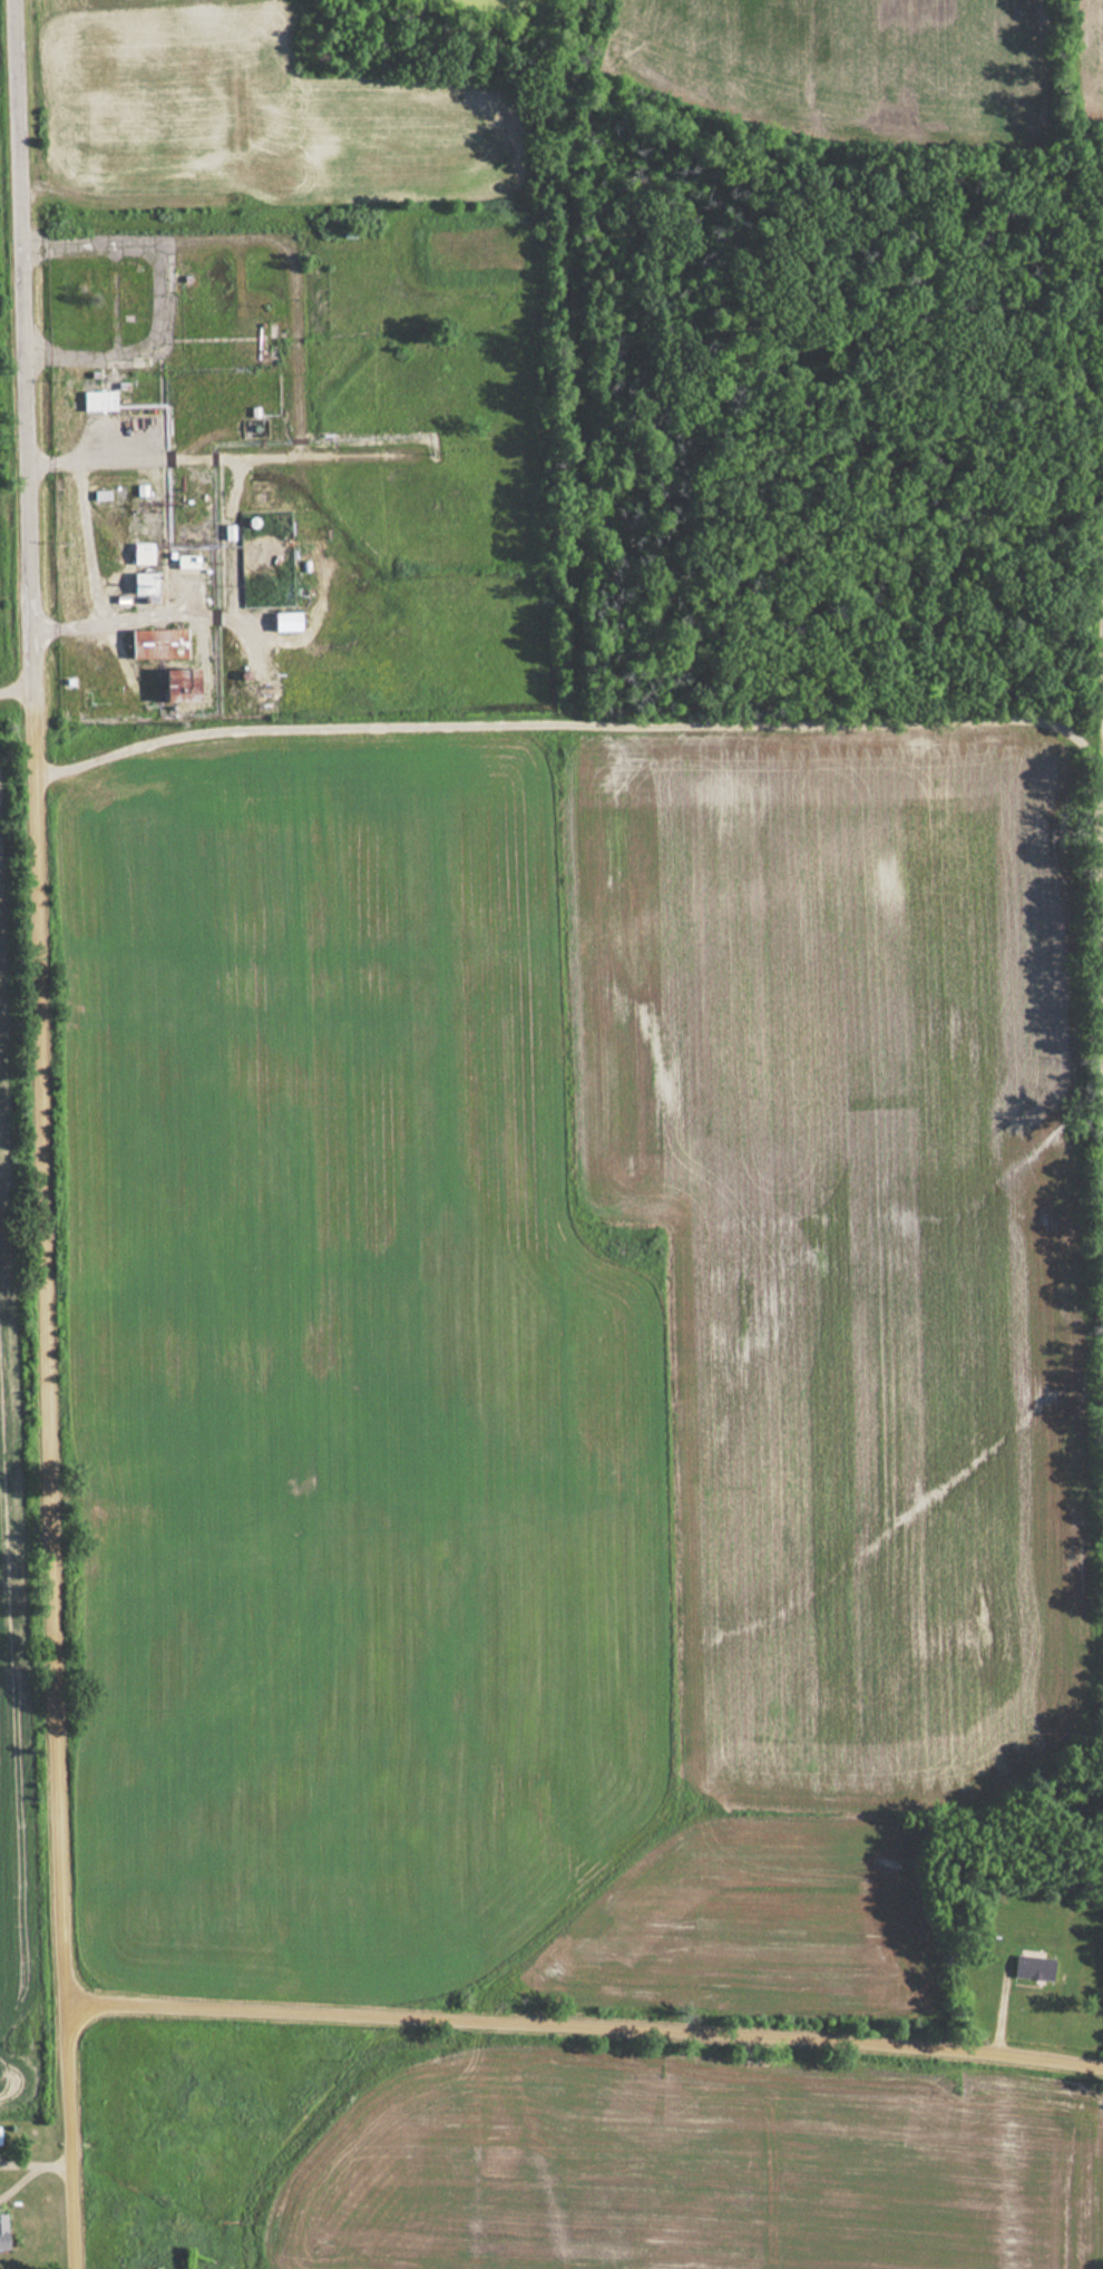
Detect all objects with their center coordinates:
road: (29, 344)
building: (97, 400)
building: (185, 561)
building: (141, 567)
building: (283, 621)
building: (155, 643)
building: (174, 685)
road: (18, 694)
road: (713, 722)
road: (55, 1480)
building: (1031, 1967)
road: (586, 2028)
building: (1, 2231)

